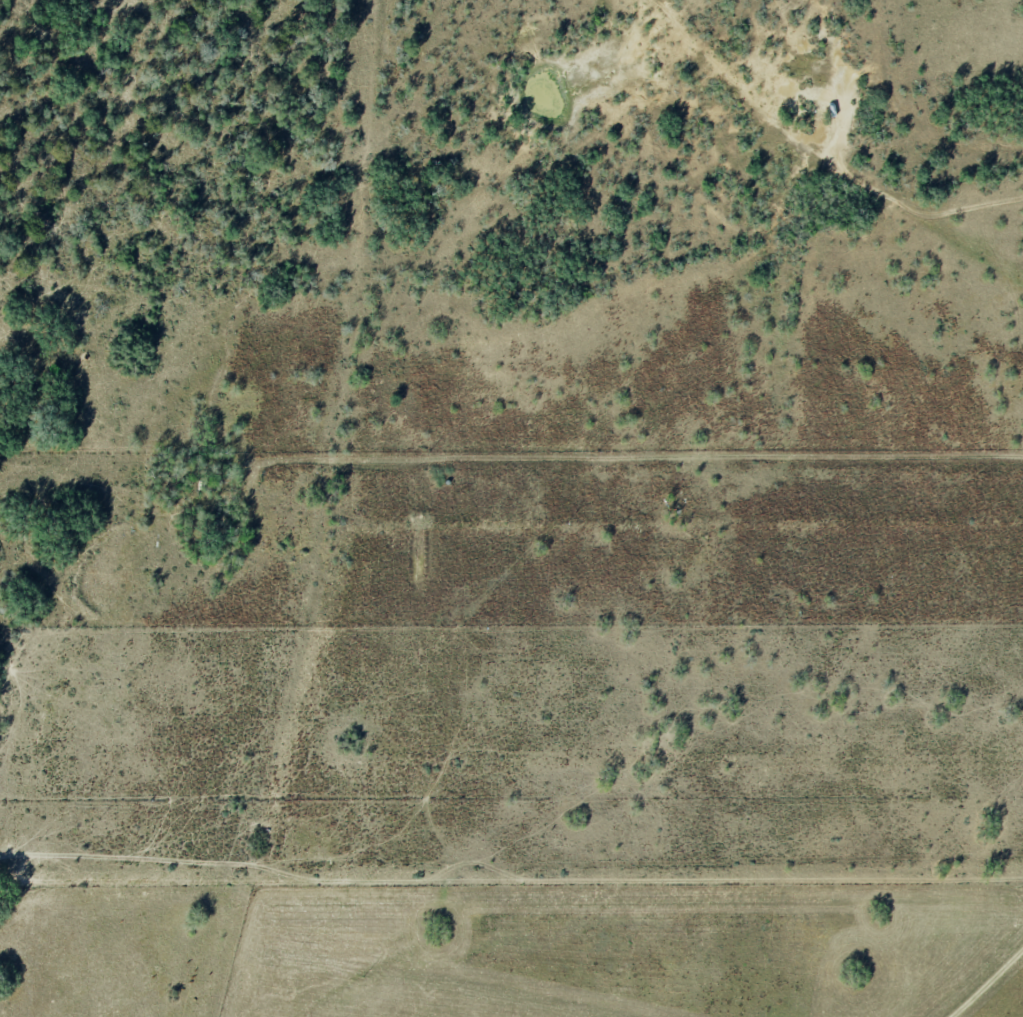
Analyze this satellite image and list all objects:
road: (905, 120)
road: (988, 984)

